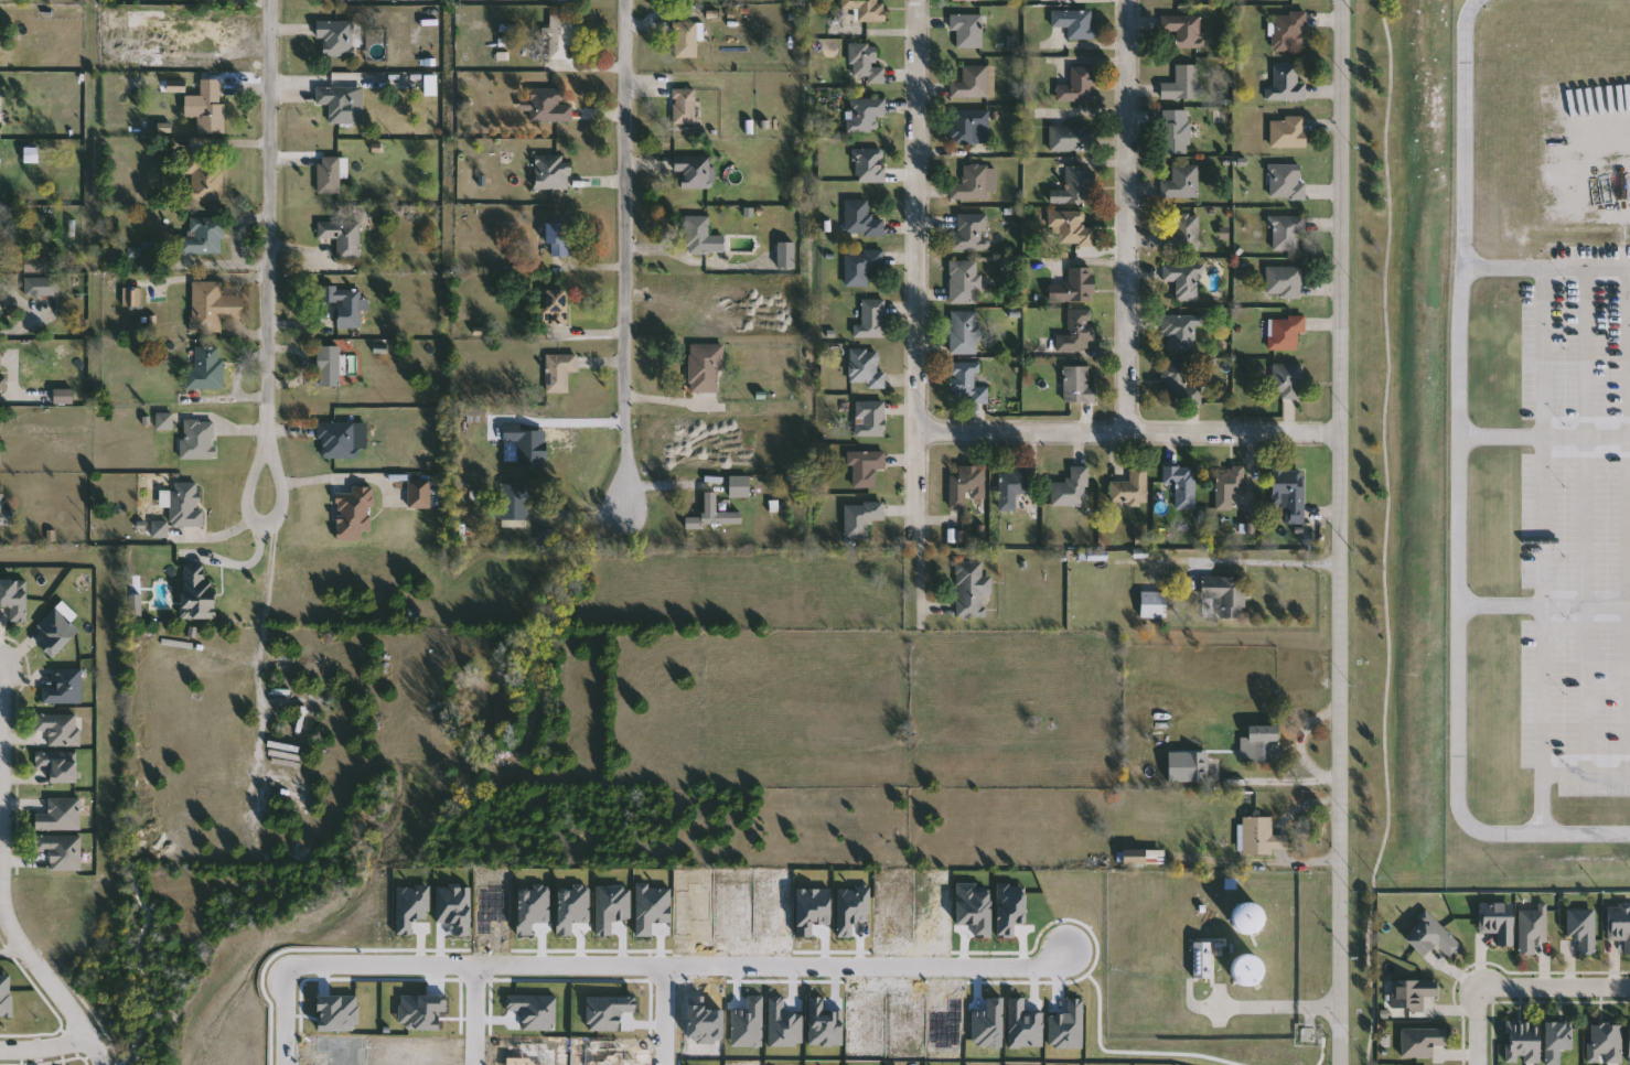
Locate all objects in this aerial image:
building: (966, 0)
building: (866, 9)
building: (149, 19)
building: (1074, 22)
building: (968, 30)
building: (1184, 30)
building: (1289, 30)
building: (561, 36)
building: (336, 37)
building: (687, 40)
building: (866, 63)
building: (973, 83)
building: (1287, 83)
building: (1182, 84)
building: (1079, 86)
building: (337, 104)
building: (212, 106)
building: (685, 106)
building: (549, 107)
building: (866, 115)
building: (968, 123)
building: (1176, 131)
building: (1288, 132)
building: (1072, 138)
building: (870, 165)
building: (695, 171)
building: (554, 173)
building: (330, 175)
building: (205, 179)
building: (1287, 181)
building: (1182, 182)
building: (972, 184)
building: (1075, 186)
road: (1128, 217)
building: (861, 219)
building: (1072, 227)
building: (1184, 232)
building: (972, 233)
building: (1288, 233)
building: (204, 236)
building: (701, 236)
building: (343, 237)
building: (556, 237)
building: (784, 255)
road: (626, 256)
building: (36, 266)
building: (862, 266)
road: (1495, 268)
road: (919, 271)
building: (1186, 280)
building: (1285, 281)
building: (965, 282)
building: (42, 286)
building: (1075, 286)
building: (132, 297)
building: (0, 300)
road: (271, 302)
building: (345, 305)
building: (213, 306)
building: (556, 308)
building: (872, 319)
road: (22, 323)
building: (1080, 332)
building: (1181, 332)
building: (1286, 332)
building: (964, 333)
building: (330, 367)
building: (706, 368)
building: (866, 368)
building: (207, 369)
building: (2, 372)
building: (560, 373)
building: (1288, 381)
building: (966, 384)
building: (1079, 385)
building: (1180, 385)
building: (870, 419)
road: (1541, 434)
road: (1132, 435)
building: (199, 440)
building: (339, 441)
road: (266, 453)
building: (867, 467)
road: (1537, 474)
building: (1183, 485)
building: (740, 486)
building: (967, 486)
building: (1014, 487)
building: (1230, 487)
building: (1133, 488)
building: (1073, 490)
building: (419, 494)
building: (1289, 494)
road: (1451, 496)
building: (514, 503)
building: (187, 505)
building: (7, 514)
building: (354, 515)
building: (714, 515)
road: (1581, 518)
road: (1626, 518)
building: (861, 519)
road: (1344, 532)
building: (973, 590)
building: (197, 594)
building: (1226, 595)
building: (15, 599)
road: (1540, 603)
building: (1154, 605)
building: (57, 633)
road: (262, 666)
building: (66, 688)
building: (62, 729)
building: (1262, 744)
building: (58, 765)
building: (1199, 767)
road: (1583, 773)
road: (1536, 803)
building: (61, 815)
building: (1263, 837)
building: (63, 851)
building: (1132, 857)
building: (1246, 917)
building: (1495, 921)
building: (1619, 923)
building: (1530, 927)
building: (1580, 928)
building: (1430, 936)
road: (12, 950)
building: (1203, 960)
road: (679, 965)
building: (1246, 970)
road: (49, 983)
road: (1554, 987)
building: (1409, 992)
road: (1276, 1008)
road: (285, 1013)
road: (475, 1014)
road: (665, 1014)
road: (1478, 1026)
building: (1555, 1040)
building: (1420, 1041)
building: (1521, 1041)
building: (1628, 1041)
building: (1604, 1042)
road: (44, 1047)

